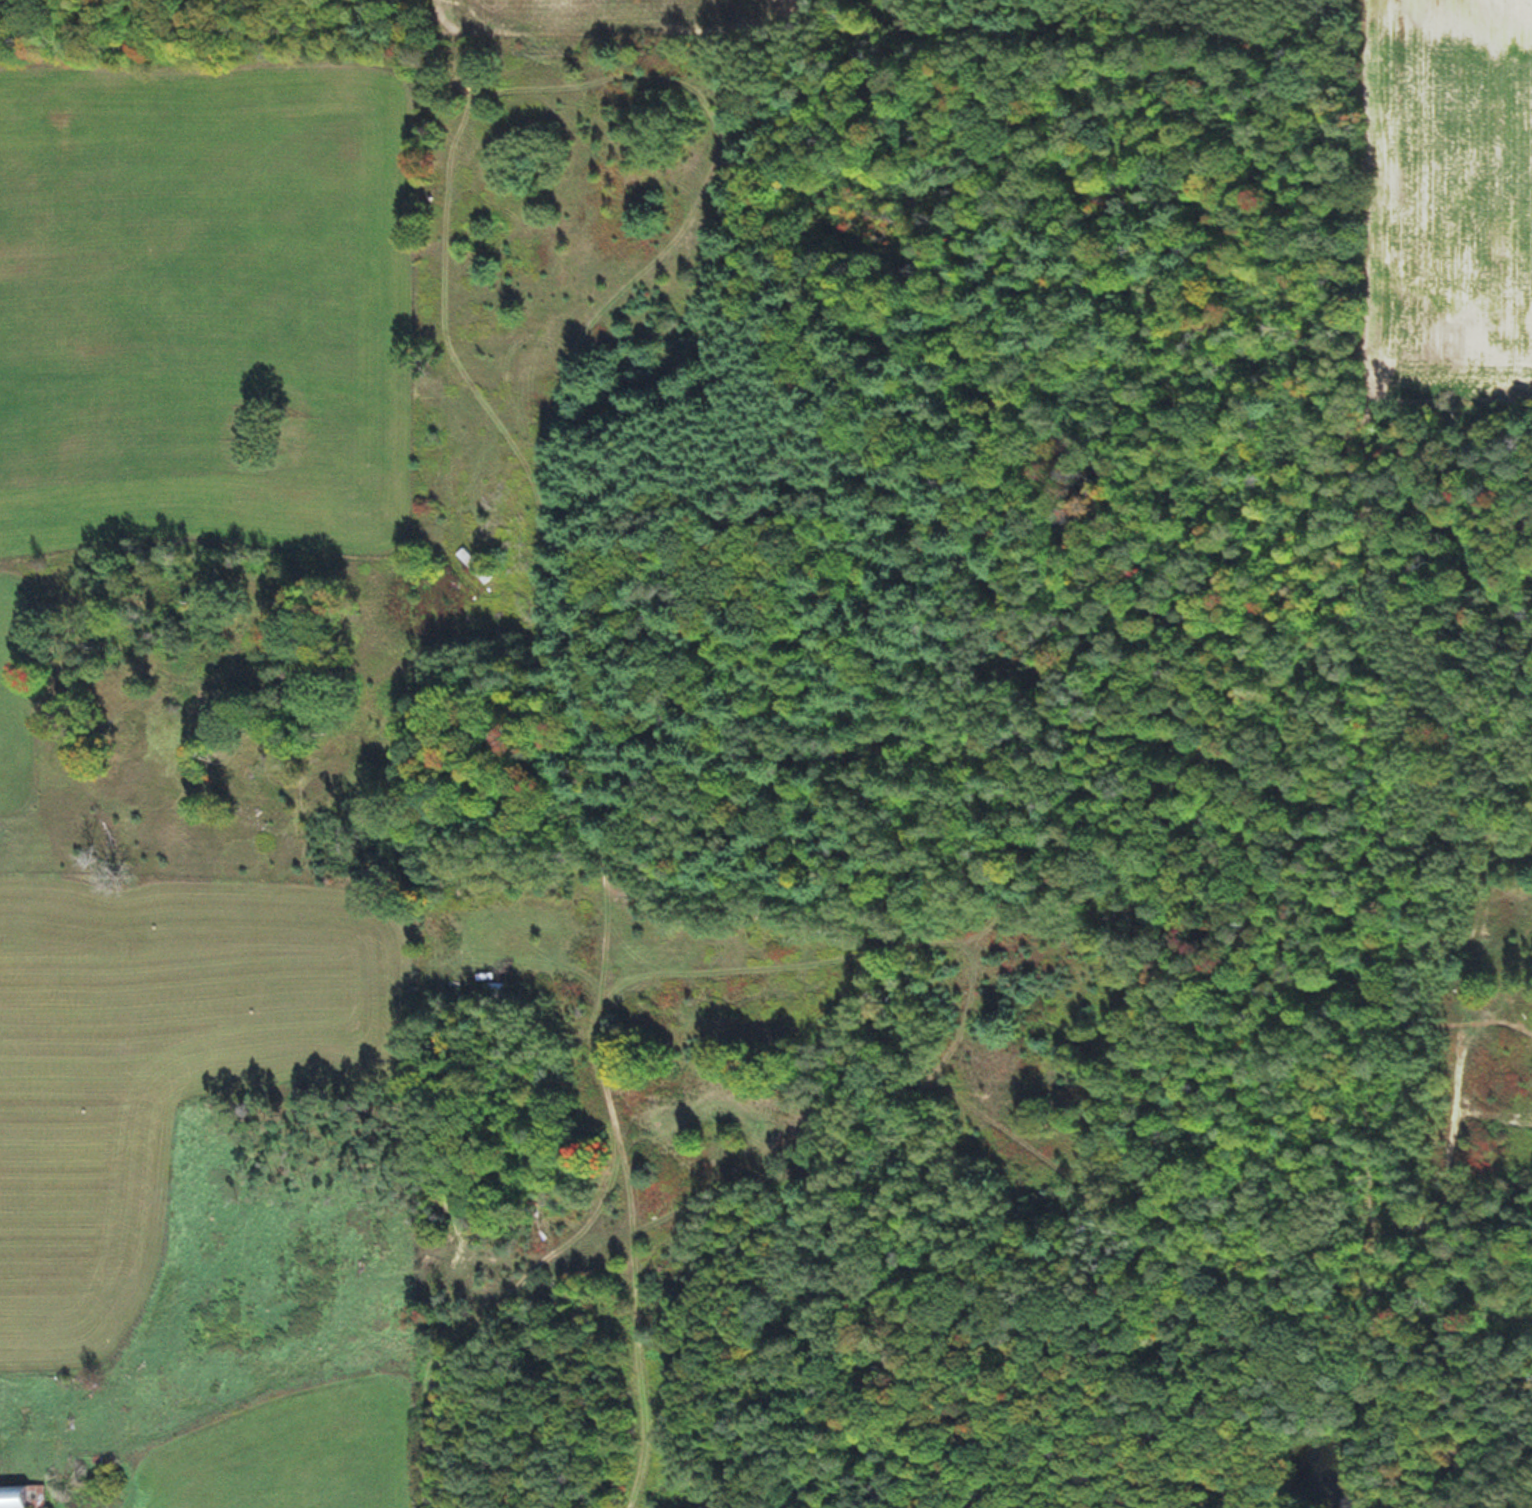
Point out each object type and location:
building: (12, 1497)

